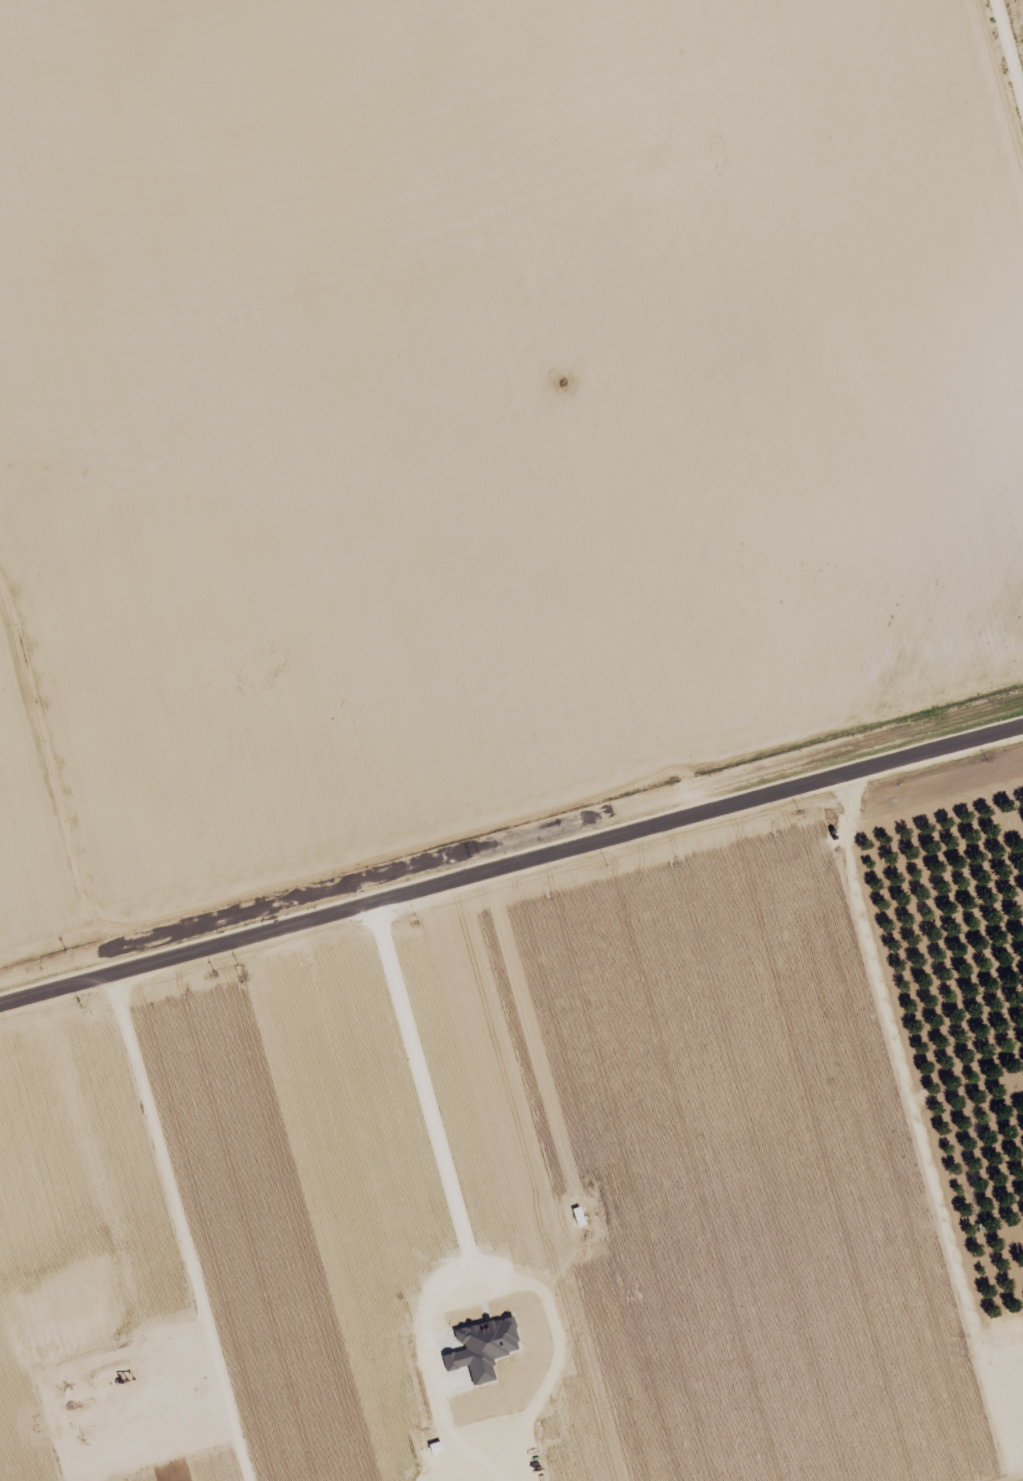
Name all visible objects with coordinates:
road: (1000, 56)
road: (508, 883)
road: (105, 1253)
building: (482, 1344)

